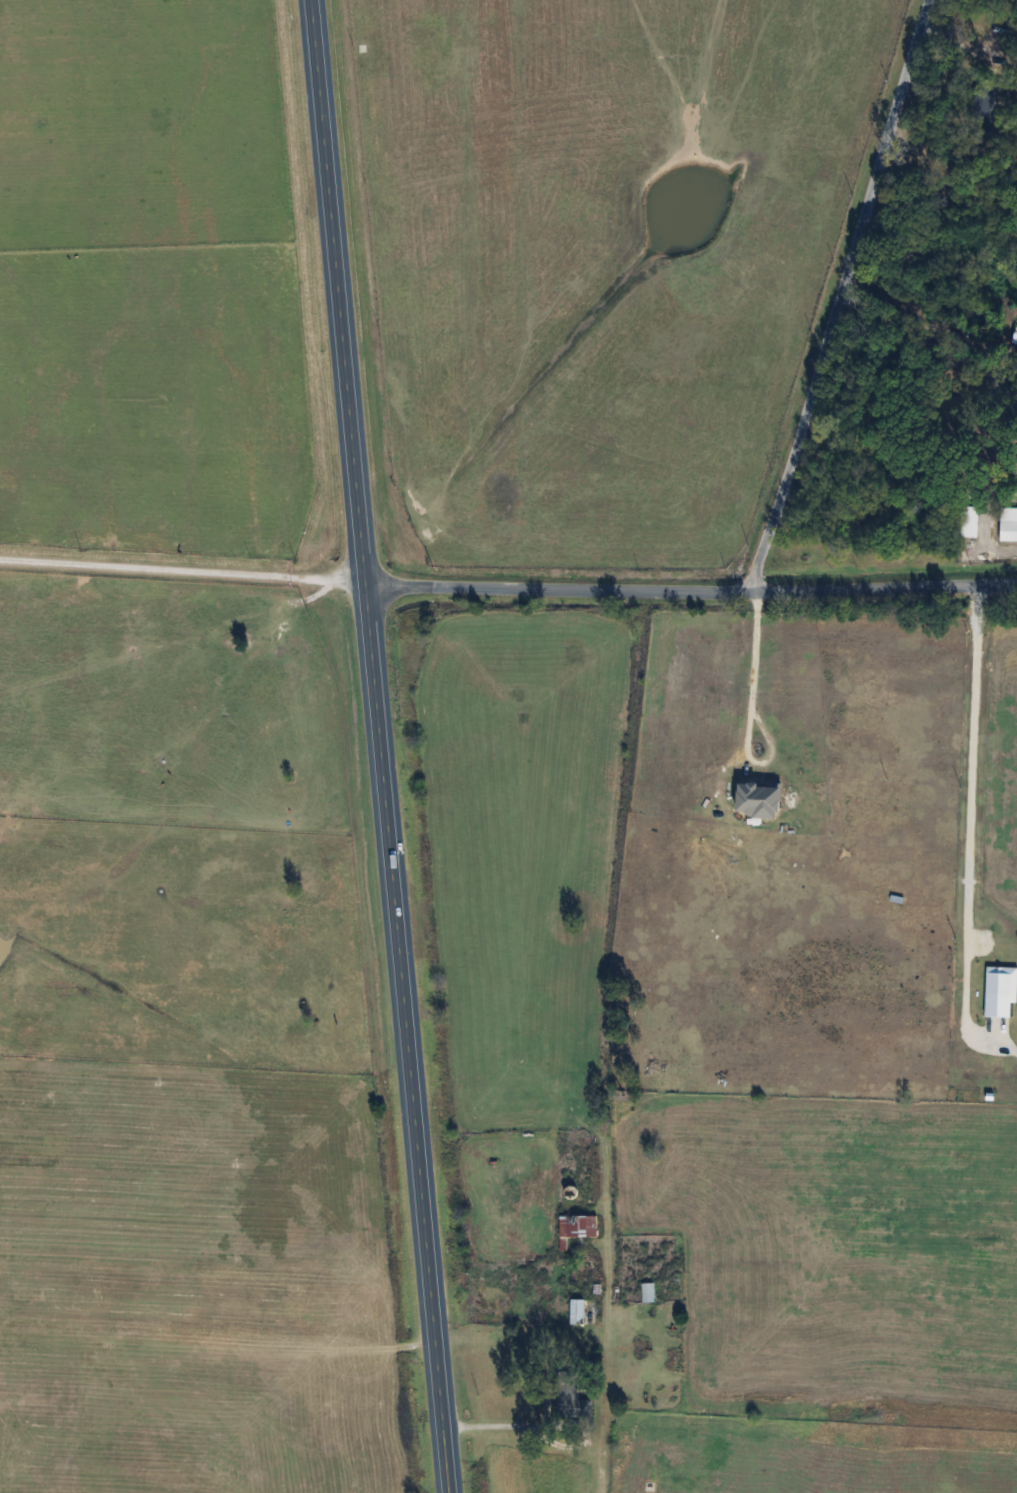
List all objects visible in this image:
road: (838, 295)
road: (907, 330)
building: (1008, 531)
road: (182, 574)
road: (691, 592)
road: (751, 712)
road: (380, 746)
road: (973, 821)
building: (650, 1064)
building: (578, 1105)
building: (577, 1228)
building: (648, 1292)
building: (578, 1311)
road: (606, 1352)
building: (572, 1397)
road: (517, 1424)

